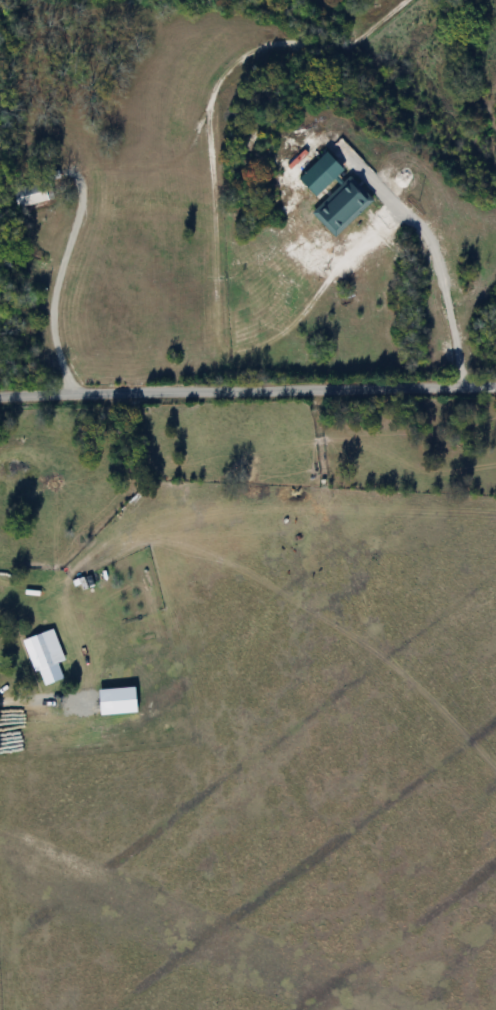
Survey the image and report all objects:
building: (31, 194)
road: (438, 264)
road: (58, 285)
road: (247, 392)
building: (41, 650)

